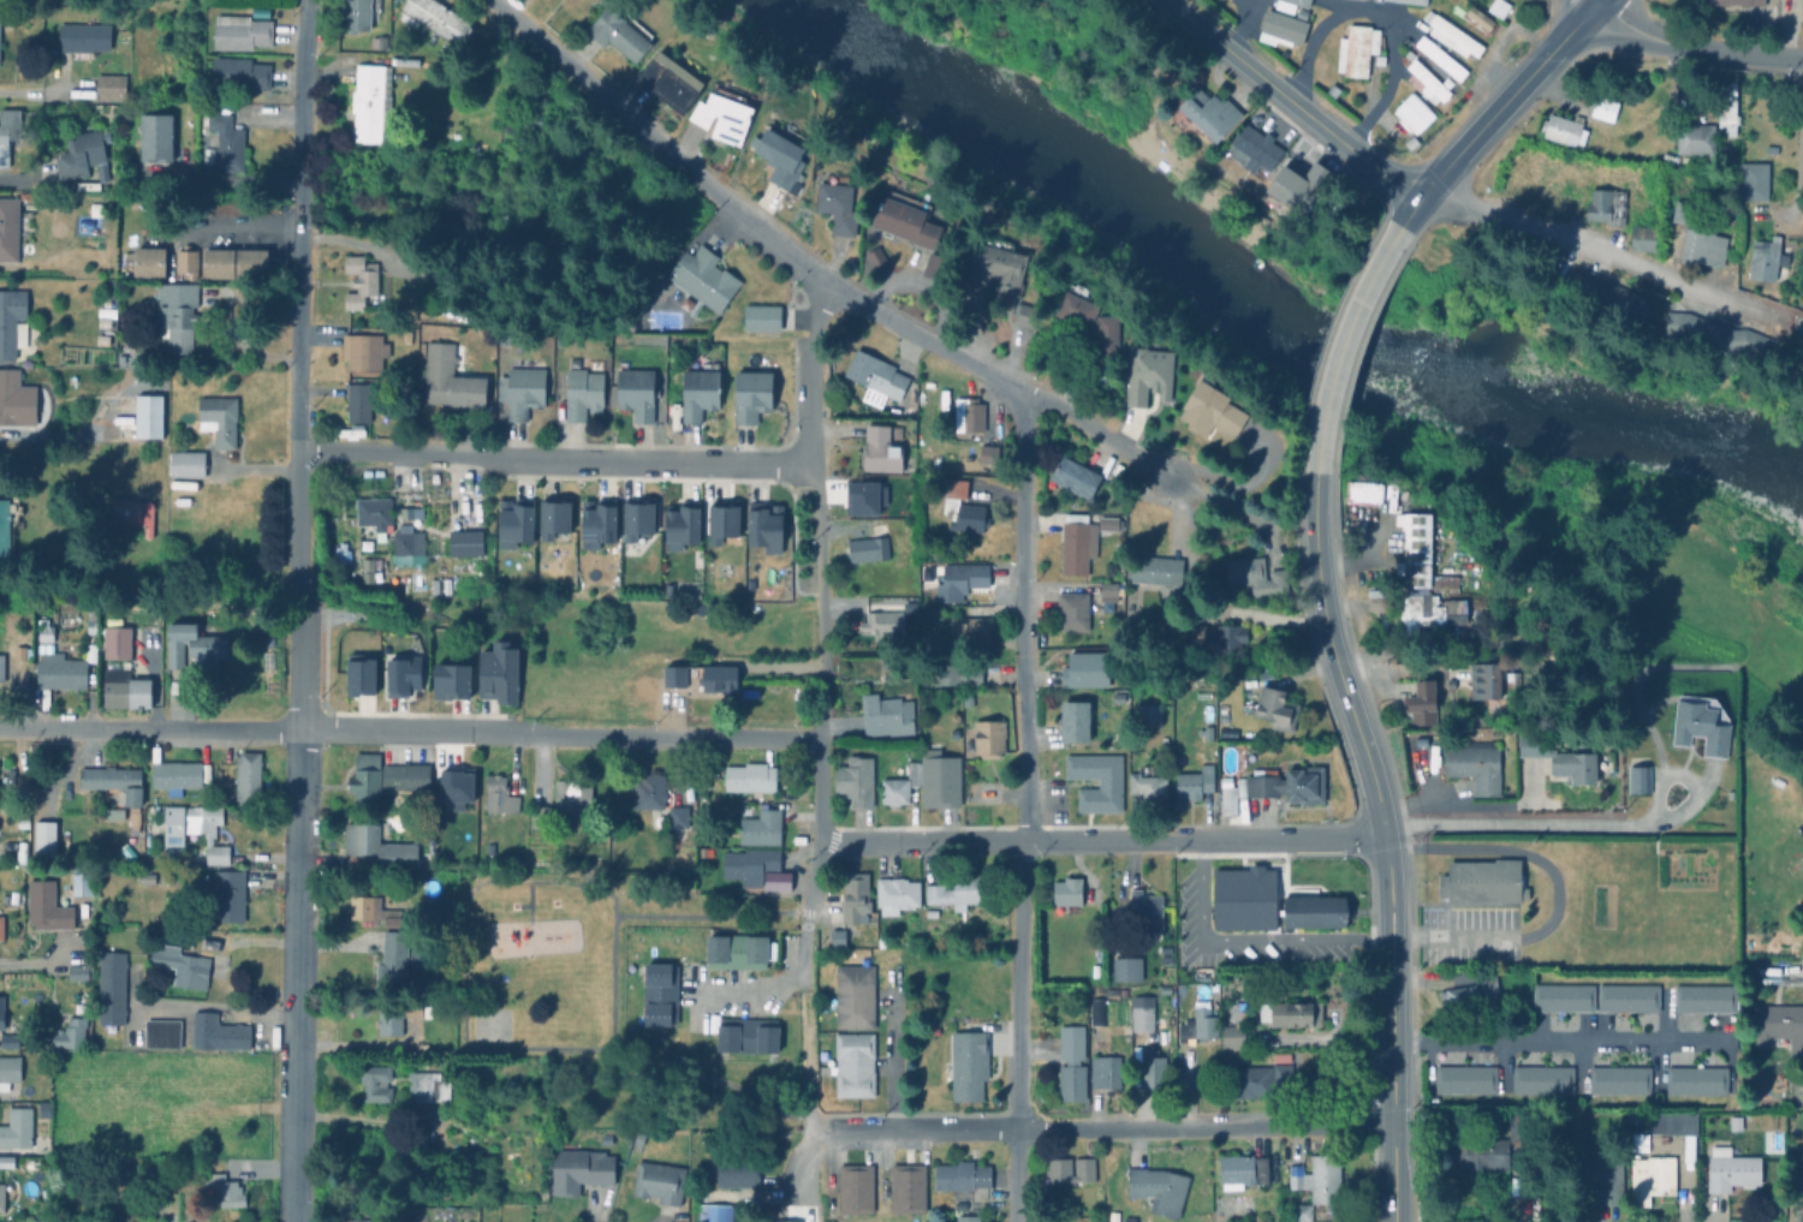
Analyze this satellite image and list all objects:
building: (1418, 0)
building: (1737, 1)
building: (1496, 5)
building: (352, 12)
road: (1381, 13)
building: (1477, 14)
building: (433, 17)
building: (785, 22)
road: (1192, 24)
building: (1281, 26)
building: (237, 29)
building: (617, 30)
building: (1452, 34)
building: (90, 38)
building: (375, 38)
building: (1355, 47)
road: (1694, 49)
building: (1438, 56)
building: (236, 70)
building: (667, 78)
building: (1424, 79)
building: (109, 88)
road: (44, 91)
road: (1505, 99)
building: (368, 100)
building: (1677, 103)
building: (1601, 107)
building: (1726, 108)
building: (1411, 109)
building: (719, 111)
building: (1202, 112)
road: (1319, 125)
building: (1561, 127)
building: (7, 132)
building: (151, 135)
building: (224, 139)
building: (1694, 139)
building: (1251, 144)
building: (776, 148)
road: (1798, 149)
building: (83, 156)
road: (227, 179)
building: (1750, 179)
building: (1296, 185)
building: (834, 201)
building: (1603, 203)
building: (96, 210)
building: (1684, 211)
building: (903, 216)
building: (987, 219)
building: (8, 228)
road: (243, 230)
building: (1640, 237)
building: (1701, 245)
building: (874, 255)
building: (185, 256)
road: (1591, 256)
building: (1765, 256)
building: (145, 257)
building: (215, 260)
building: (249, 261)
building: (930, 262)
building: (993, 262)
building: (701, 275)
building: (357, 279)
building: (1611, 296)
road: (851, 299)
building: (171, 311)
building: (1024, 312)
building: (757, 315)
building: (1087, 317)
river: (1263, 321)
building: (12, 322)
building: (103, 322)
road: (1344, 332)
building: (559, 336)
building: (1709, 336)
building: (361, 348)
road: (807, 369)
building: (1146, 372)
building: (871, 374)
building: (445, 375)
building: (695, 385)
building: (581, 386)
building: (518, 388)
building: (633, 389)
building: (750, 393)
building: (12, 399)
building: (355, 400)
building: (1208, 409)
building: (966, 412)
building: (148, 417)
building: (215, 417)
building: (879, 446)
building: (986, 452)
road: (387, 454)
building: (183, 461)
road: (641, 463)
building: (1071, 475)
building: (953, 485)
building: (1361, 488)
building: (371, 512)
building: (136, 514)
building: (549, 514)
building: (636, 515)
building: (968, 517)
building: (719, 518)
building: (594, 519)
building: (512, 520)
building: (1106, 520)
building: (678, 521)
building: (763, 523)
building: (7, 524)
road: (816, 530)
building: (465, 542)
building: (407, 543)
building: (1076, 543)
building: (869, 544)
building: (1422, 554)
building: (1156, 570)
building: (1256, 576)
building: (960, 580)
building: (436, 585)
building: (447, 585)
building: (1109, 589)
building: (908, 603)
building: (909, 608)
road: (298, 610)
building: (1073, 610)
building: (1429, 613)
building: (151, 622)
building: (881, 624)
building: (94, 625)
building: (969, 630)
building: (1197, 632)
building: (48, 633)
building: (1226, 639)
building: (118, 646)
road: (1386, 651)
building: (198, 652)
building: (24, 655)
road: (1334, 658)
road: (819, 667)
building: (1085, 669)
building: (2, 670)
building: (956, 670)
building: (65, 672)
building: (358, 673)
building: (500, 673)
building: (400, 675)
building: (674, 675)
building: (1516, 676)
building: (1486, 679)
building: (447, 680)
building: (720, 680)
building: (129, 691)
building: (1118, 697)
building: (1422, 703)
building: (1274, 708)
building: (1149, 714)
building: (887, 715)
building: (1073, 721)
building: (1698, 723)
building: (1227, 732)
road: (410, 733)
building: (1209, 733)
building: (988, 738)
building: (1560, 758)
building: (1476, 765)
building: (178, 776)
building: (365, 776)
building: (405, 776)
road: (1685, 776)
building: (750, 777)
building: (1636, 777)
building: (250, 780)
building: (856, 780)
building: (927, 781)
building: (1105, 782)
building: (1195, 782)
building: (1148, 783)
building: (1275, 786)
building: (454, 788)
road: (816, 789)
building: (117, 791)
building: (649, 792)
building: (500, 795)
building: (564, 804)
road: (1471, 805)
road: (1024, 806)
building: (678, 816)
building: (23, 818)
building: (136, 821)
road: (1522, 823)
building: (191, 824)
building: (761, 828)
road: (1308, 839)
road: (1029, 840)
building: (377, 847)
building: (47, 850)
building: (23, 856)
building: (222, 862)
building: (750, 864)
building: (776, 880)
building: (1484, 880)
building: (149, 882)
building: (178, 883)
building: (84, 886)
building: (957, 890)
building: (1067, 893)
road: (603, 894)
building: (898, 895)
building: (232, 899)
building: (856, 899)
building: (1239, 900)
building: (49, 910)
building: (374, 910)
building: (1314, 910)
building: (1146, 911)
road: (807, 916)
road: (710, 918)
building: (4, 930)
road: (1246, 938)
building: (213, 947)
building: (734, 949)
building: (392, 955)
building: (1185, 960)
road: (24, 967)
building: (1126, 967)
building: (191, 968)
road: (1390, 974)
building: (81, 976)
building: (1470, 988)
building: (115, 990)
building: (1117, 990)
building: (659, 992)
road: (749, 994)
building: (853, 995)
building: (1626, 996)
building: (1702, 996)
building: (1561, 997)
park: (607, 1000)
road: (198, 1005)
building: (411, 1007)
building: (1097, 1011)
building: (1237, 1011)
building: (1292, 1012)
building: (4, 1014)
building: (1143, 1017)
building: (388, 1020)
building: (1198, 1024)
building: (1778, 1025)
building: (932, 1030)
building: (745, 1033)
building: (1232, 1035)
building: (166, 1036)
building: (221, 1036)
building: (73, 1037)
road: (1555, 1042)
building: (14, 1043)
road: (891, 1056)
building: (46, 1062)
building: (1071, 1062)
building: (853, 1063)
building: (969, 1063)
building: (1153, 1068)
building: (1108, 1071)
building: (11, 1074)
building: (1617, 1077)
building: (1265, 1078)
building: (1465, 1078)
building: (1543, 1078)
road: (703, 1079)
building: (1694, 1079)
building: (374, 1081)
building: (426, 1085)
road: (803, 1087)
building: (1155, 1098)
building: (46, 1110)
building: (1634, 1113)
building: (1567, 1116)
building: (1733, 1122)
building: (1518, 1125)
building: (1674, 1127)
road: (1204, 1128)
building: (19, 1132)
road: (917, 1134)
building: (1483, 1152)
building: (1796, 1161)
road: (795, 1164)
building: (1728, 1168)
building: (581, 1169)
building: (1242, 1170)
building: (1058, 1172)
road: (1393, 1172)
building: (737, 1173)
building: (1648, 1176)
building: (964, 1178)
building: (1319, 1178)
building: (1603, 1178)
building: (657, 1181)
building: (855, 1187)
building: (908, 1187)
building: (1159, 1188)
building: (228, 1193)
building: (6, 1197)
building: (1533, 1205)
building: (1297, 1211)
building: (714, 1212)
building: (966, 1217)
building: (1129, 1218)
building: (350, 1220)
building: (784, 1220)

